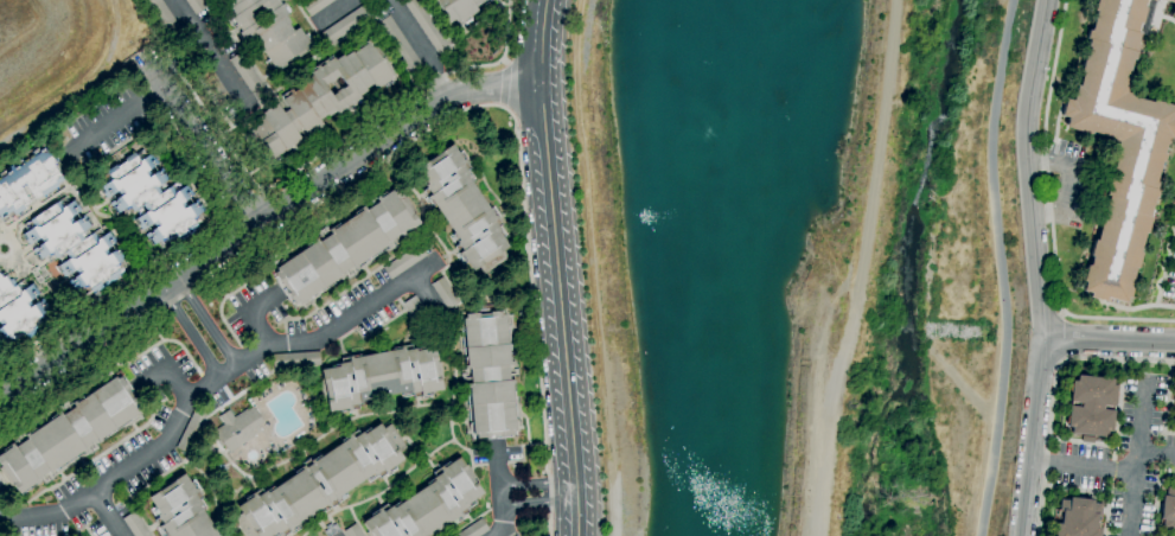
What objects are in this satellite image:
building: (1154, 0)
building: (1170, 1)
road: (292, 4)
building: (194, 5)
building: (315, 5)
building: (1174, 5)
building: (458, 9)
road: (328, 12)
building: (377, 14)
building: (165, 18)
building: (346, 24)
building: (427, 26)
building: (267, 30)
road: (458, 34)
road: (324, 45)
building: (400, 45)
road: (417, 46)
road: (389, 49)
road: (209, 53)
road: (453, 53)
road: (503, 60)
road: (183, 64)
building: (247, 77)
road: (503, 84)
building: (213, 85)
road: (82, 87)
building: (320, 97)
road: (117, 114)
road: (428, 129)
road: (202, 141)
building: (1119, 143)
road: (326, 151)
road: (455, 170)
building: (26, 180)
road: (1066, 181)
building: (152, 199)
building: (462, 210)
road: (1051, 211)
road: (260, 222)
building: (75, 245)
road: (191, 248)
building: (343, 249)
building: (402, 261)
road: (555, 267)
road: (594, 267)
road: (1005, 267)
road: (1036, 267)
road: (857, 269)
river: (913, 270)
road: (424, 293)
building: (443, 293)
road: (325, 301)
building: (414, 310)
building: (18, 311)
road: (251, 313)
road: (219, 318)
road: (279, 321)
road: (206, 323)
road: (190, 333)
road: (1064, 338)
road: (1109, 345)
road: (180, 346)
building: (294, 359)
road: (166, 369)
building: (487, 375)
building: (381, 377)
road: (210, 382)
road: (1053, 391)
building: (1091, 406)
building: (1174, 408)
building: (237, 428)
building: (191, 430)
building: (70, 433)
road: (70, 433)
road: (1156, 452)
road: (1136, 459)
road: (1083, 466)
building: (221, 470)
road: (538, 481)
building: (320, 483)
road: (500, 492)
road: (539, 502)
building: (428, 504)
building: (1168, 509)
building: (180, 510)
road: (110, 513)
building: (1078, 518)
building: (135, 525)
building: (473, 529)
building: (353, 530)

